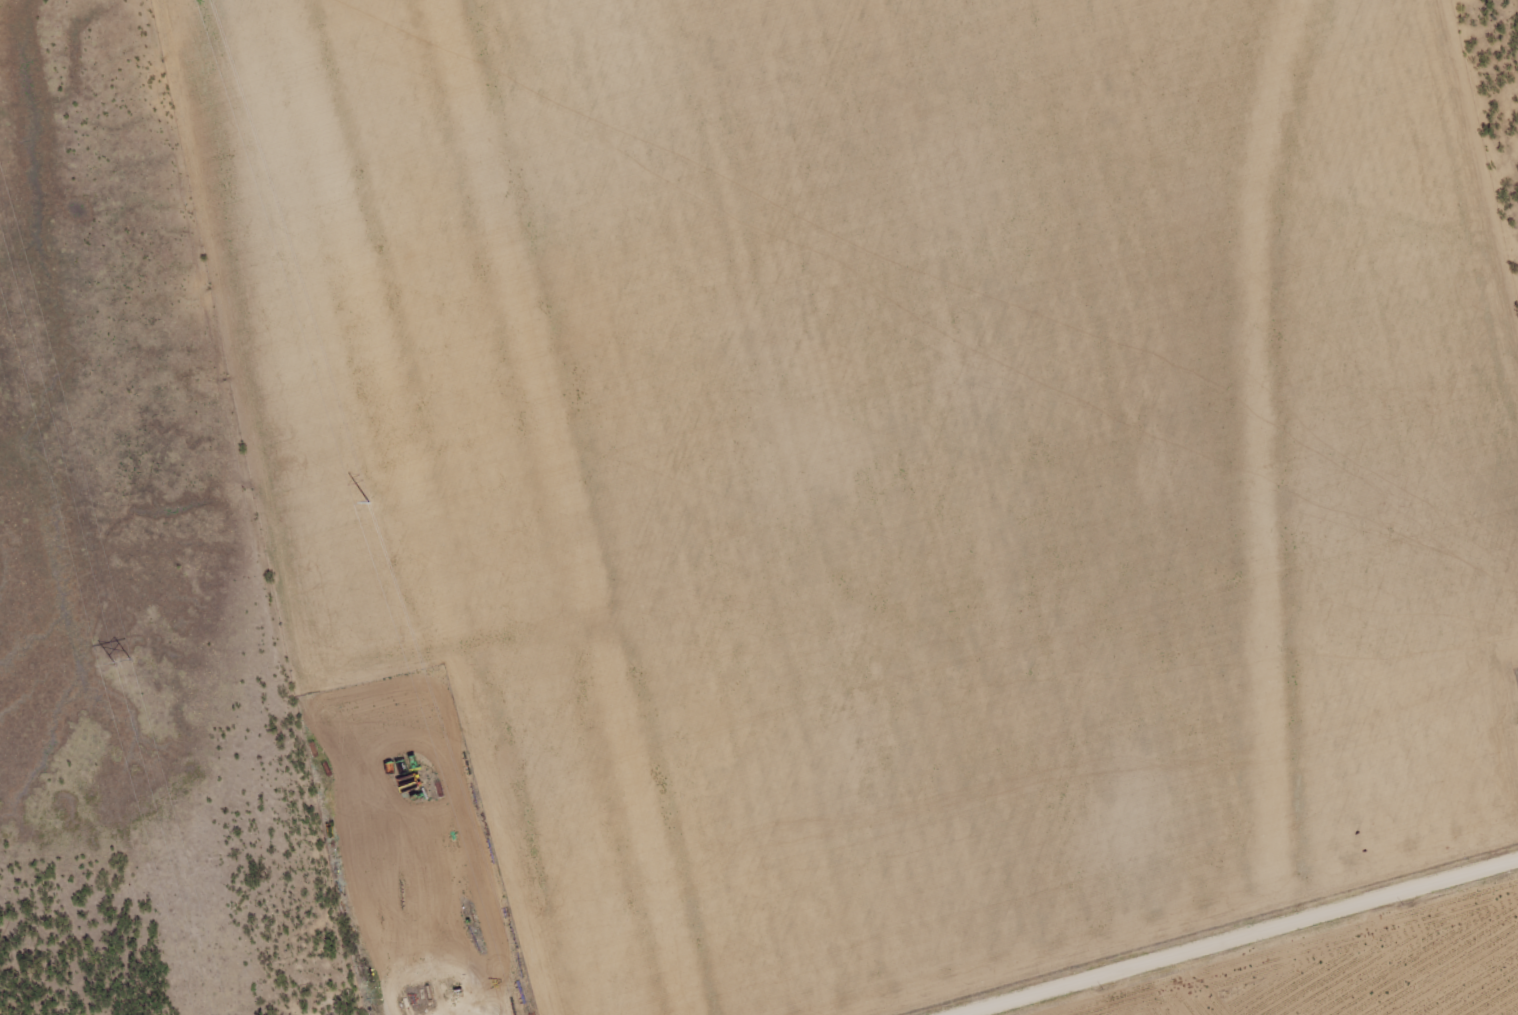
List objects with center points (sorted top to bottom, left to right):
power tower: (369, 502)
power tower: (125, 661)
road: (1229, 935)

